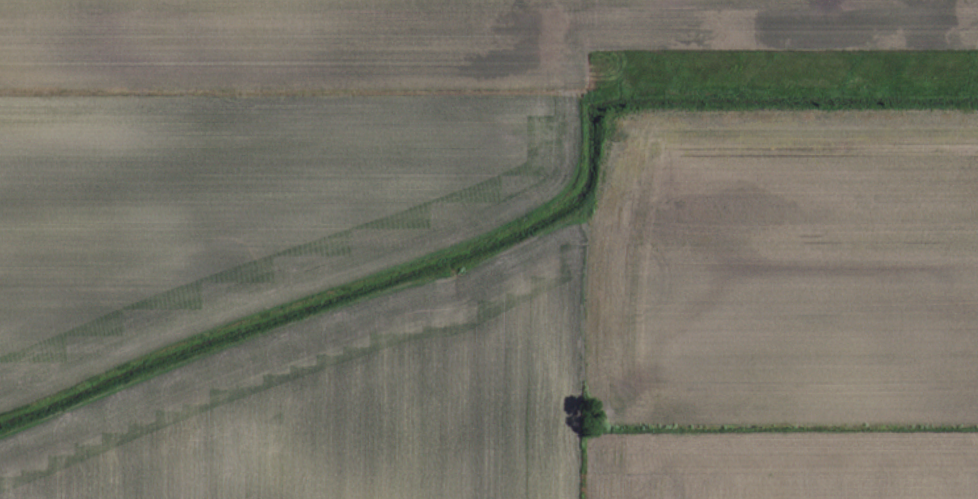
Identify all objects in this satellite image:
crop: (489, 249)

